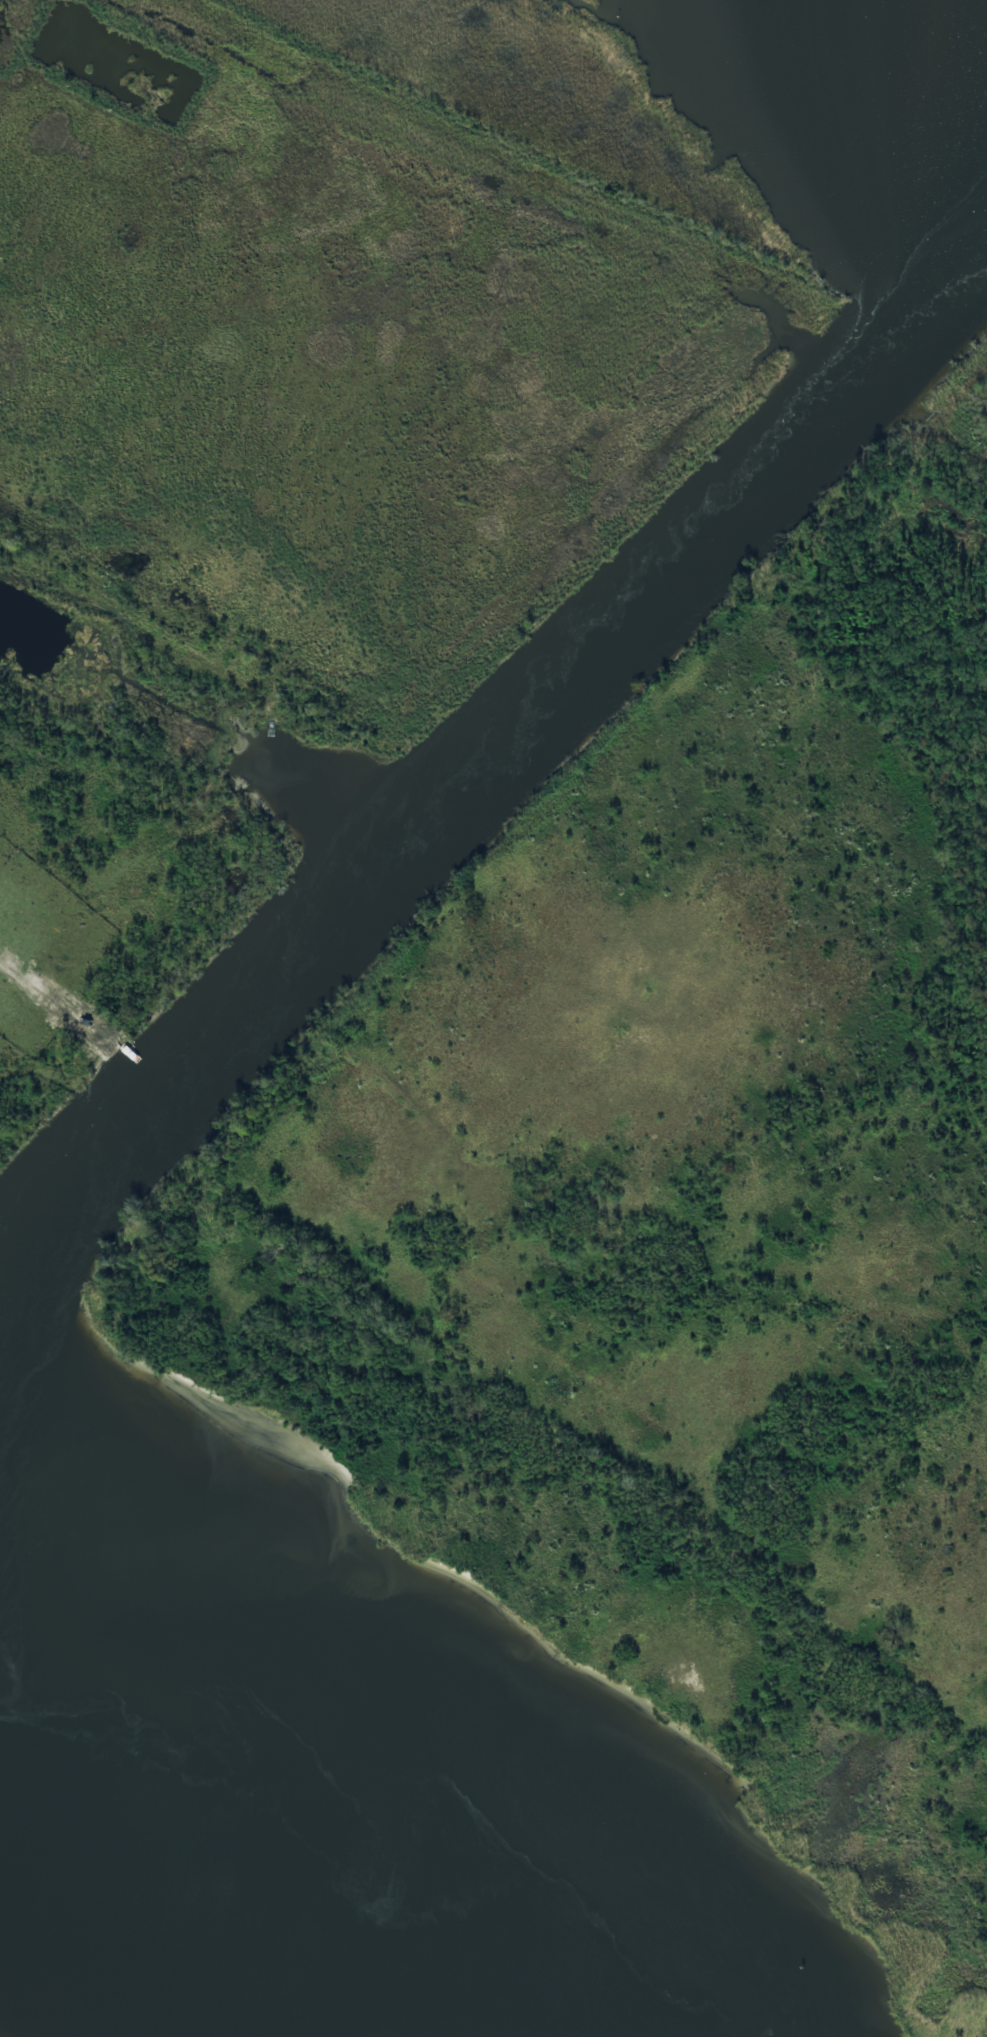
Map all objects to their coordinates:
river: (287, 1864)

